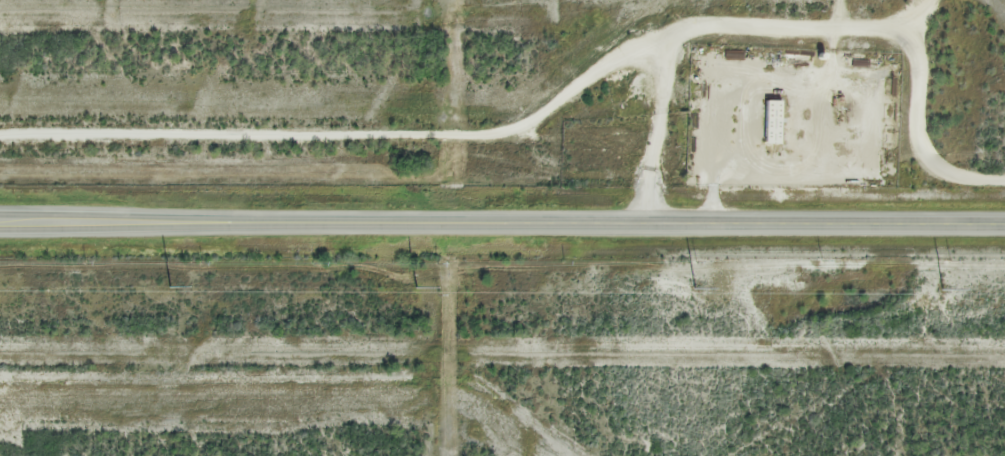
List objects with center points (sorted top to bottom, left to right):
building: (774, 121)
road: (502, 222)
power tower: (172, 285)
power tower: (416, 286)
power tower: (695, 287)
power tower: (943, 289)

